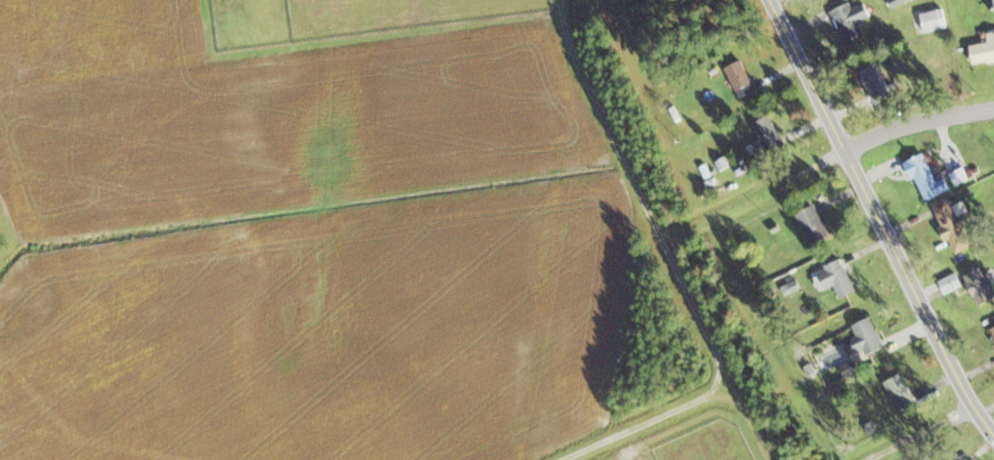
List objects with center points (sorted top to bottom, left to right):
building: (896, 2)
building: (991, 4)
building: (850, 20)
building: (932, 21)
building: (983, 52)
building: (740, 79)
building: (875, 83)
road: (921, 127)
building: (765, 138)
building: (926, 177)
road: (883, 214)
building: (811, 224)
building: (951, 225)
building: (836, 277)
building: (979, 285)
building: (992, 330)
building: (865, 339)
building: (899, 391)

